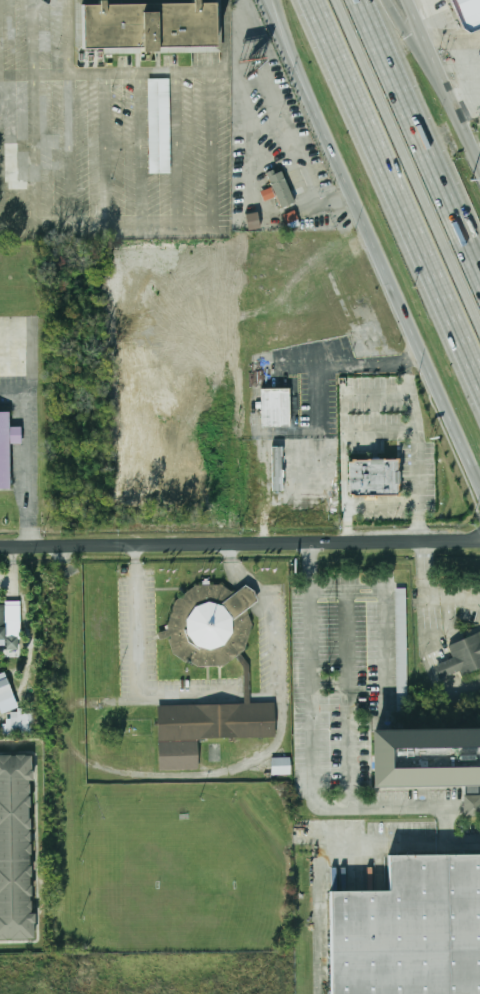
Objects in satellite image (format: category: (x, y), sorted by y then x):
building: (468, 13)
building: (143, 28)
road: (226, 39)
road: (418, 51)
road: (105, 73)
road: (441, 81)
road: (310, 90)
road: (35, 112)
building: (159, 125)
road: (420, 132)
road: (213, 146)
road: (478, 154)
road: (409, 158)
building: (284, 185)
road: (395, 189)
building: (294, 216)
building: (253, 220)
road: (107, 223)
road: (374, 238)
road: (319, 368)
building: (279, 404)
road: (414, 421)
building: (6, 451)
road: (29, 467)
building: (277, 468)
building: (377, 474)
road: (382, 507)
road: (264, 510)
road: (240, 544)
road: (428, 561)
road: (454, 591)
road: (389, 608)
road: (456, 623)
building: (401, 649)
road: (440, 651)
building: (467, 653)
road: (136, 666)
building: (446, 668)
building: (246, 685)
building: (5, 688)
road: (346, 698)
building: (21, 723)
building: (423, 756)
road: (312, 762)
building: (280, 766)
road: (226, 771)
road: (464, 803)
building: (471, 805)
road: (339, 844)
building: (16, 849)
building: (410, 929)
road: (320, 981)

